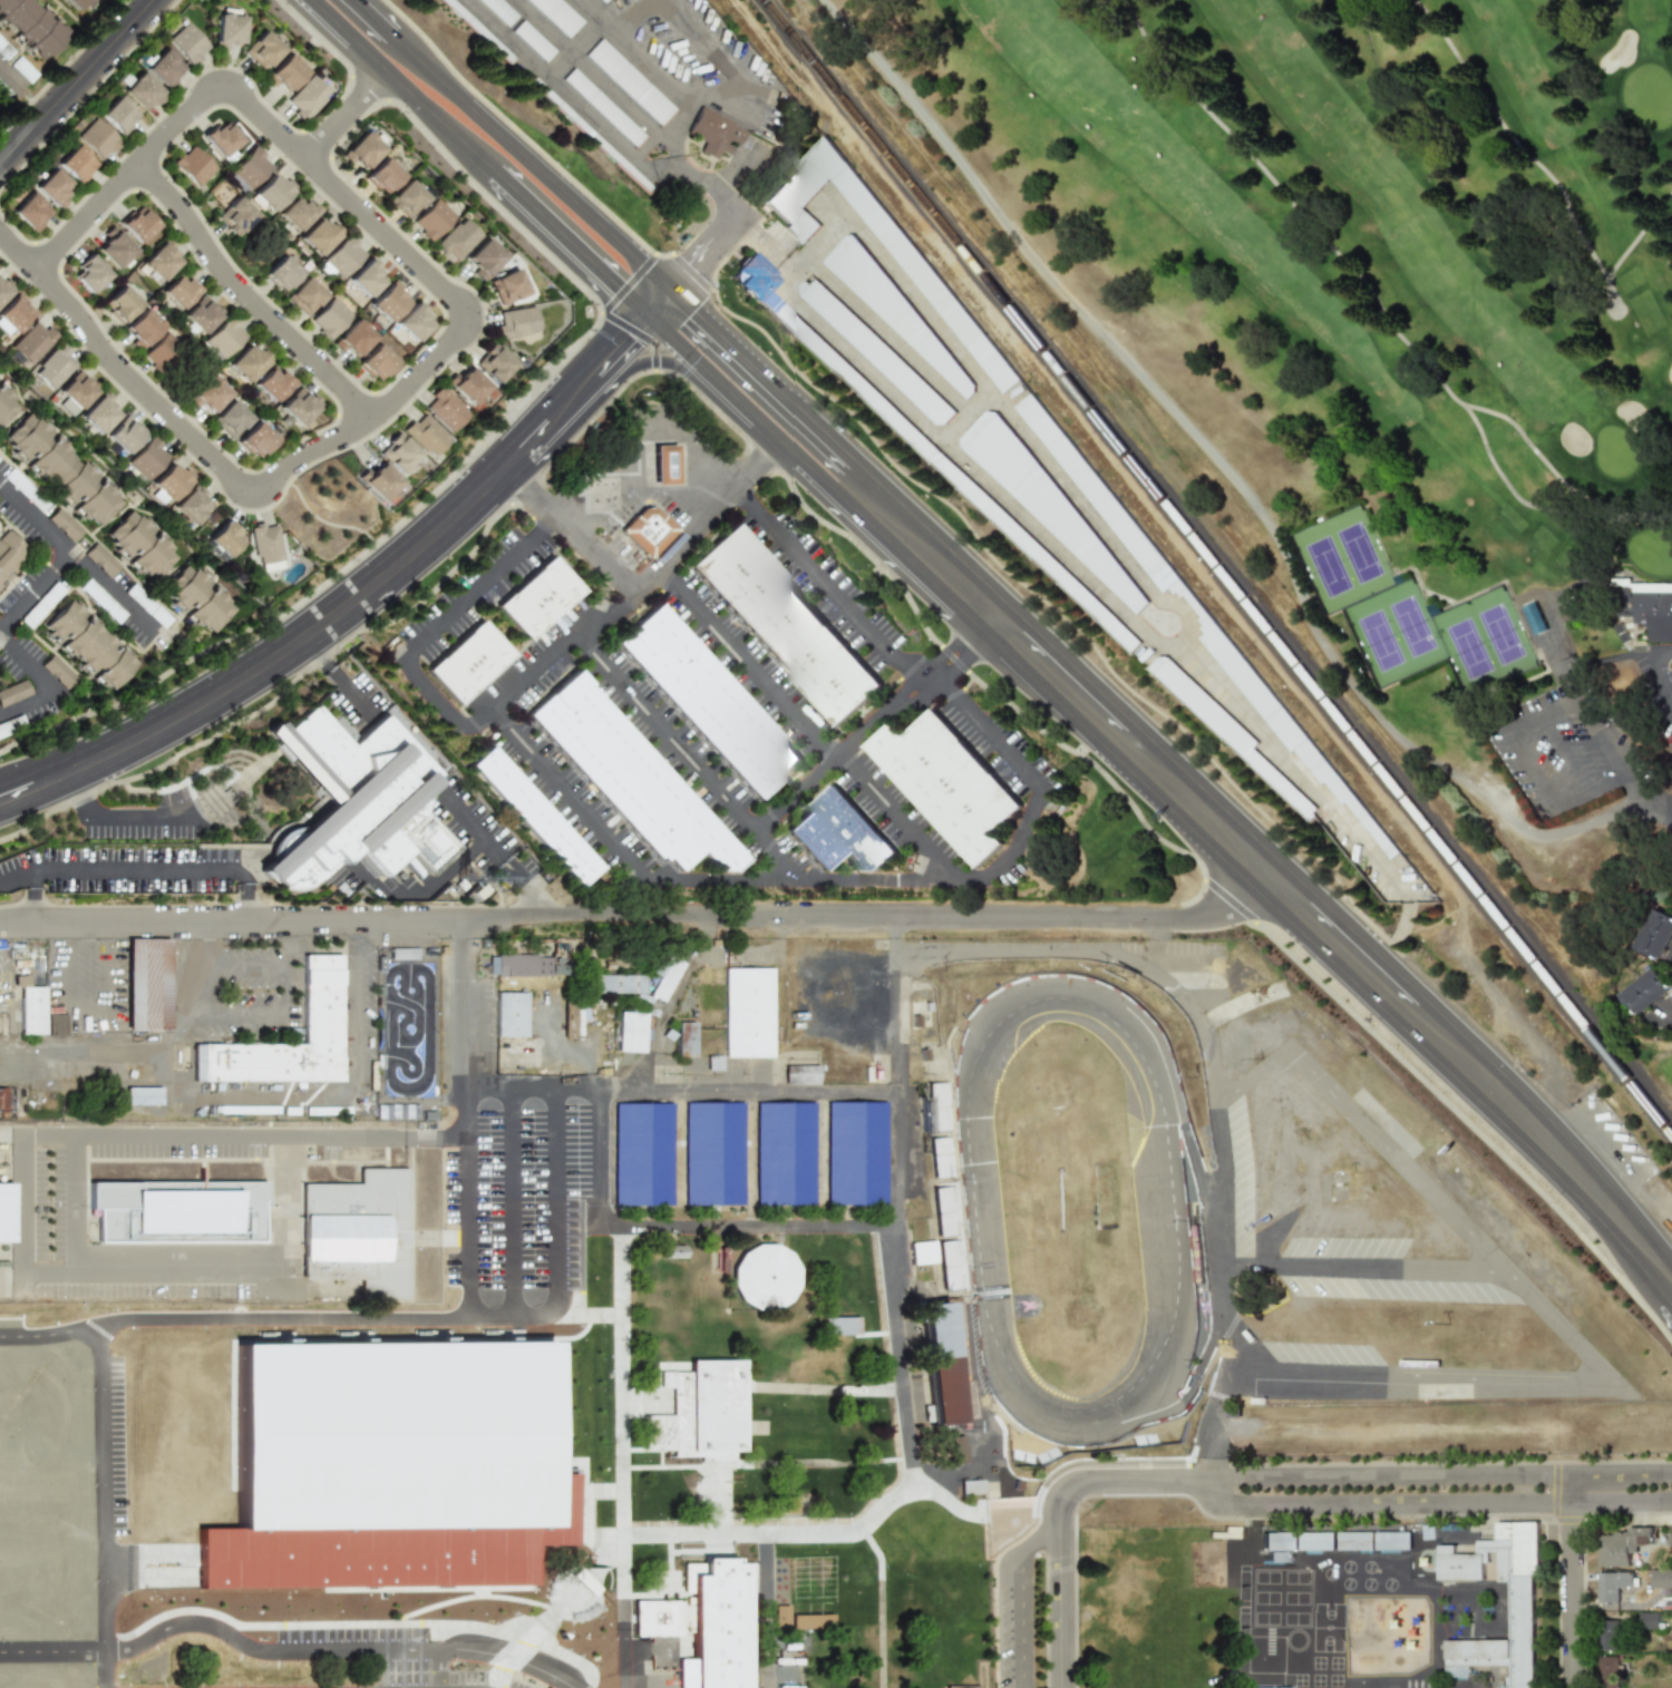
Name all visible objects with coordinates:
building: (601, 0)
building: (75, 3)
building: (498, 10)
building: (557, 16)
road: (629, 17)
road: (331, 20)
building: (28, 27)
building: (227, 30)
building: (477, 30)
building: (533, 40)
building: (186, 43)
building: (3, 50)
building: (261, 50)
road: (729, 67)
building: (164, 68)
building: (20, 69)
road: (585, 69)
building: (283, 72)
parking lot: (12, 74)
road: (8, 79)
road: (550, 80)
road: (660, 80)
building: (629, 81)
road: (78, 82)
street lamp: (256, 82)
road: (221, 89)
building: (142, 91)
building: (2, 92)
building: (305, 97)
building: (602, 107)
road: (421, 108)
building: (117, 115)
road: (346, 117)
street lamp: (153, 125)
building: (713, 131)
building: (590, 135)
building: (97, 138)
road: (1509, 138)
building: (220, 139)
road: (748, 142)
road: (515, 145)
road: (673, 147)
building: (361, 150)
building: (75, 164)
building: (193, 166)
building: (249, 167)
building: (382, 175)
road: (692, 175)
building: (51, 187)
building: (271, 193)
building: (406, 198)
street lamp: (196, 206)
building: (30, 212)
building: (297, 213)
building: (235, 216)
road: (87, 217)
street lamp: (108, 218)
building: (431, 218)
building: (137, 224)
street lamp: (404, 231)
road: (1636, 233)
building: (319, 236)
building: (455, 240)
road: (822, 240)
building: (114, 246)
road: (567, 248)
road: (18, 251)
building: (342, 256)
building: (483, 257)
building: (159, 260)
building: (89, 273)
building: (281, 273)
road: (1352, 273)
traffic signals: (688, 274)
building: (364, 277)
street lamp: (22, 283)
road: (438, 284)
building: (506, 286)
building: (3, 289)
building: (178, 290)
traffic signals: (613, 293)
building: (304, 296)
road: (247, 299)
building: (388, 301)
building: (120, 302)
building: (891, 308)
street lamp: (235, 309)
building: (14, 313)
building: (201, 313)
street lamp: (489, 313)
building: (950, 313)
traffic signals: (697, 314)
road: (1616, 315)
building: (330, 318)
building: (412, 322)
building: (515, 322)
building: (142, 329)
building: (223, 336)
road: (659, 336)
building: (353, 338)
traffic signals: (628, 339)
building: (31, 342)
park: (1374, 347)
building: (823, 349)
road: (897, 349)
street lamp: (327, 350)
building: (874, 352)
building: (164, 353)
building: (375, 361)
street lamp: (135, 362)
building: (247, 362)
building: (494, 362)
building: (54, 365)
road: (644, 370)
building: (273, 382)
building: (466, 386)
building: (77, 389)
building: (208, 393)
street lamp: (417, 402)
building: (4, 403)
building: (299, 406)
building: (67, 407)
building: (445, 408)
building: (97, 412)
road: (804, 416)
building: (230, 419)
road: (953, 427)
building: (124, 433)
building: (425, 435)
road: (189, 437)
building: (255, 439)
street lamp: (298, 441)
building: (397, 452)
building: (146, 458)
road: (747, 459)
road: (793, 462)
gas station: (663, 465)
building: (664, 465)
road: (1051, 466)
road: (1223, 468)
building: (60, 469)
street lamp: (204, 472)
building: (379, 480)
building: (171, 481)
building: (25, 489)
building: (1042, 503)
building: (192, 504)
road: (1538, 508)
road: (1021, 514)
building: (211, 518)
road: (696, 524)
building: (64, 525)
road: (334, 526)
road: (776, 530)
building: (650, 533)
building: (224, 537)
building: (264, 543)
building: (139, 544)
building: (213, 549)
park: (1357, 553)
building: (9, 555)
building: (1037, 555)
road: (79, 558)
building: (101, 559)
railway: (1216, 566)
park: (1325, 566)
building: (1397, 578)
road: (368, 591)
road: (37, 592)
building: (197, 597)
building: (101, 601)
building: (541, 602)
building: (40, 605)
building: (147, 606)
building: (1644, 606)
parking lot: (129, 607)
building: (1431, 609)
building: (1533, 618)
park: (1410, 626)
building: (786, 627)
building: (1208, 627)
road: (435, 628)
building: (1618, 628)
park: (1498, 634)
building: (1623, 637)
park: (1378, 641)
building: (87, 644)
park: (1466, 648)
building: (470, 665)
road: (1561, 670)
building: (58, 671)
road: (1651, 674)
road: (46, 681)
road: (951, 687)
building: (13, 692)
building: (709, 703)
building: (11, 725)
building: (340, 726)
building: (1225, 729)
road: (1506, 736)
road: (1561, 754)
building: (634, 779)
building: (947, 787)
road: (1646, 792)
road: (445, 793)
building: (359, 801)
road: (580, 808)
road: (1662, 814)
road: (115, 816)
building: (535, 818)
building: (842, 836)
road: (929, 850)
road: (140, 869)
road: (421, 891)
road: (1308, 908)
road: (659, 920)
road: (894, 934)
building: (1654, 934)
road: (93, 946)
road: (292, 952)
road: (1112, 952)
building: (402, 953)
building: (515, 965)
building: (665, 978)
parking lot: (245, 982)
building: (614, 983)
building: (146, 984)
building: (1644, 991)
building: (328, 1002)
road: (814, 1003)
road: (94, 1005)
building: (31, 1009)
building: (749, 1012)
road: (195, 1017)
building: (512, 1018)
building: (571, 1019)
building: (56, 1025)
building: (631, 1032)
building: (686, 1038)
road: (82, 1057)
building: (713, 1063)
road: (1649, 1073)
building: (800, 1074)
road: (531, 1089)
building: (142, 1095)
road: (295, 1096)
building: (2, 1100)
building: (937, 1106)
road: (104, 1134)
road: (1608, 1147)
building: (856, 1152)
building: (715, 1153)
building: (786, 1153)
building: (647, 1154)
building: (941, 1157)
parking lot: (521, 1159)
road: (74, 1204)
building: (4, 1212)
building: (179, 1214)
raceway: (1160, 1219)
road: (900, 1221)
building: (947, 1237)
building: (358, 1241)
road: (558, 1246)
building: (673, 1252)
building: (922, 1252)
road: (1360, 1267)
building: (765, 1276)
road: (1546, 1314)
road: (319, 1317)
building: (839, 1326)
building: (939, 1363)
raceway: (1157, 1367)
road: (1227, 1375)
building: (717, 1412)
building: (672, 1422)
building: (302, 1431)
building: (957, 1448)
road: (1440, 1476)
road: (1139, 1483)
road: (103, 1486)
building: (970, 1486)
road: (1438, 1505)
building: (1279, 1539)
building: (1316, 1539)
building: (1355, 1539)
building: (1393, 1539)
building: (1621, 1546)
building: (1279, 1554)
building: (1661, 1579)
road: (1574, 1581)
building: (1612, 1585)
road: (1059, 1589)
road: (1024, 1597)
building: (1520, 1609)
road: (764, 1618)
building: (780, 1618)
building: (661, 1620)
building: (1647, 1620)
building: (810, 1621)
building: (719, 1626)
building: (1607, 1635)
road: (50, 1648)
road: (264, 1649)
road: (508, 1657)
road: (438, 1666)
road: (101, 1668)
building: (629, 1668)
building: (1608, 1671)
road: (628, 1685)
building: (960, 1686)
building: (1258, 1687)
building: (1282, 1687)

